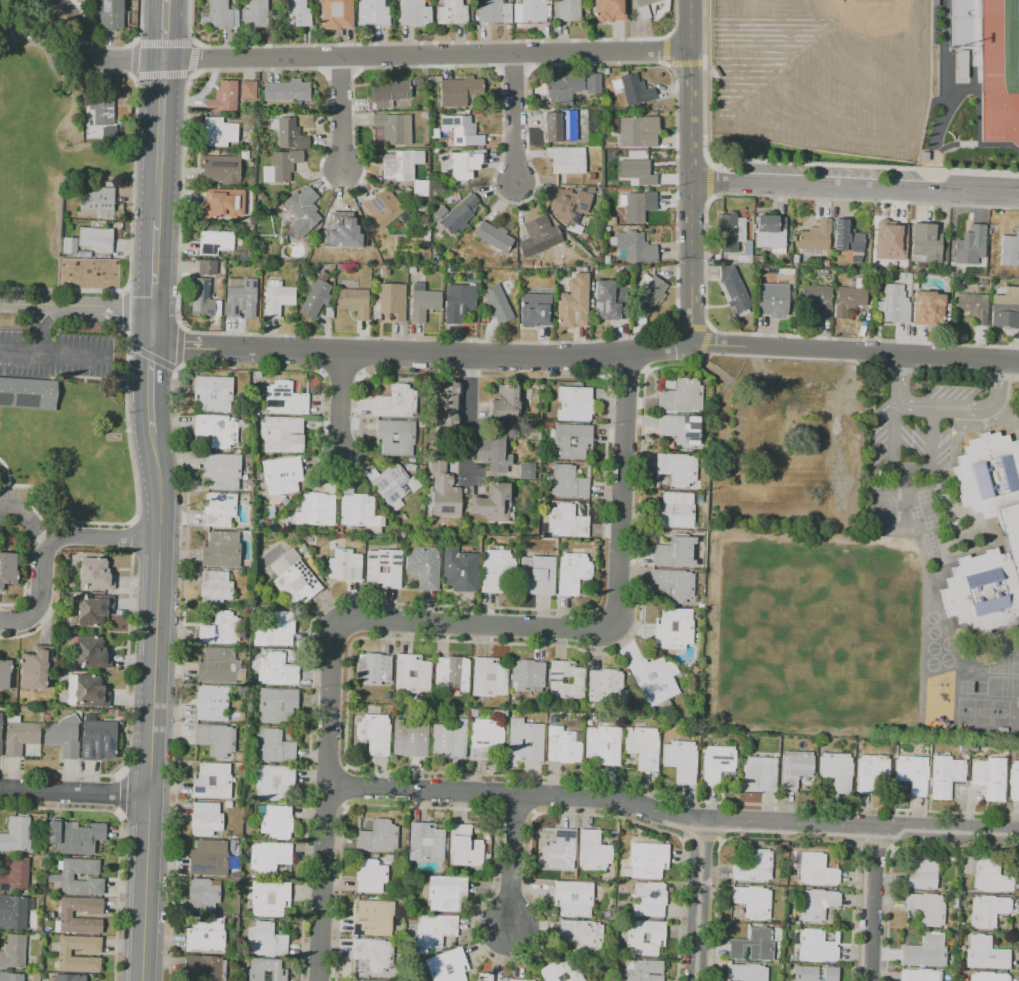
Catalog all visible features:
building: (82, 2)
building: (934, 2)
building: (647, 8)
building: (611, 10)
building: (569, 11)
building: (496, 12)
building: (535, 12)
building: (298, 13)
building: (375, 13)
building: (417, 13)
building: (454, 13)
building: (258, 14)
building: (338, 14)
building: (113, 15)
building: (222, 15)
road: (188, 21)
road: (139, 22)
building: (965, 23)
road: (81, 24)
park: (1018, 28)
road: (163, 30)
park: (1012, 41)
road: (194, 42)
road: (133, 44)
road: (163, 44)
road: (39, 45)
road: (109, 47)
road: (943, 51)
road: (389, 54)
road: (191, 58)
road: (133, 59)
traffic signals: (162, 61)
building: (962, 64)
park: (829, 70)
road: (106, 71)
road: (160, 74)
road: (191, 75)
road: (131, 76)
road: (996, 76)
track: (996, 76)
building: (594, 84)
building: (565, 90)
building: (636, 90)
road: (689, 90)
building: (250, 91)
building: (289, 92)
building: (391, 93)
building: (463, 93)
building: (225, 98)
building: (104, 109)
road: (341, 112)
road: (512, 116)
road: (979, 116)
building: (563, 127)
road: (939, 127)
building: (393, 128)
building: (463, 130)
building: (111, 132)
building: (641, 132)
building: (220, 134)
building: (292, 135)
road: (159, 141)
road: (975, 145)
building: (569, 161)
building: (287, 165)
building: (464, 165)
park: (21, 166)
building: (400, 166)
parking lot: (767, 169)
park: (50, 170)
building: (223, 171)
building: (639, 172)
parking lot: (846, 172)
parking lot: (901, 175)
road: (131, 183)
road: (853, 186)
building: (100, 201)
road: (180, 201)
building: (226, 204)
building: (572, 206)
building: (640, 206)
building: (305, 212)
building: (385, 212)
building: (462, 216)
building: (733, 233)
building: (773, 234)
building: (352, 235)
building: (496, 237)
building: (541, 237)
building: (98, 240)
building: (818, 240)
building: (850, 241)
building: (217, 243)
building: (895, 243)
building: (928, 244)
building: (72, 247)
building: (636, 248)
building: (973, 248)
building: (1010, 249)
building: (747, 253)
building: (759, 260)
road: (689, 262)
road: (704, 262)
road: (154, 264)
building: (209, 268)
building: (824, 273)
road: (61, 289)
road: (124, 290)
building: (736, 291)
building: (652, 294)
building: (775, 298)
building: (854, 298)
building: (202, 299)
building: (243, 300)
building: (318, 300)
building: (819, 300)
building: (280, 301)
building: (613, 302)
building: (357, 303)
building: (395, 303)
building: (460, 303)
building: (576, 303)
road: (24, 305)
road: (71, 305)
building: (499, 305)
building: (896, 305)
road: (123, 306)
building: (426, 306)
building: (976, 307)
building: (930, 309)
building: (1006, 309)
building: (538, 310)
road: (125, 311)
road: (153, 323)
road: (37, 326)
road: (126, 337)
traffic signals: (153, 339)
road: (179, 346)
road: (18, 350)
road: (854, 351)
parking lot: (56, 353)
road: (71, 353)
road: (149, 356)
road: (420, 356)
road: (175, 368)
road: (150, 386)
building: (215, 394)
building: (29, 395)
building: (684, 396)
building: (288, 400)
road: (340, 401)
building: (399, 402)
building: (579, 404)
building: (451, 406)
building: (507, 406)
road: (968, 408)
road: (468, 416)
building: (780, 418)
building: (682, 430)
building: (218, 431)
parking lot: (916, 431)
building: (285, 434)
building: (397, 437)
building: (573, 441)
building: (498, 453)
road: (892, 461)
building: (679, 469)
building: (223, 472)
building: (528, 472)
building: (284, 476)
building: (570, 483)
building: (392, 484)
building: (446, 493)
building: (494, 504)
building: (319, 509)
building: (677, 509)
building: (840, 509)
building: (221, 510)
building: (361, 512)
road: (28, 519)
building: (569, 522)
building: (1011, 533)
road: (52, 540)
building: (223, 551)
building: (677, 551)
building: (346, 567)
building: (426, 568)
building: (386, 569)
building: (9, 570)
building: (462, 571)
building: (497, 571)
building: (575, 574)
building: (97, 576)
building: (540, 576)
building: (296, 580)
building: (675, 585)
building: (217, 589)
building: (96, 610)
road: (157, 614)
park: (777, 619)
road: (430, 624)
building: (677, 628)
building: (222, 630)
building: (277, 630)
road: (416, 639)
building: (94, 654)
building: (219, 666)
building: (37, 669)
building: (376, 669)
building: (279, 671)
building: (5, 675)
building: (454, 675)
building: (414, 676)
building: (529, 677)
building: (491, 679)
building: (568, 681)
building: (658, 681)
building: (608, 687)
building: (93, 693)
building: (213, 703)
building: (280, 707)
park: (974, 712)
park: (1001, 713)
building: (1, 735)
building: (377, 735)
building: (413, 738)
building: (23, 739)
building: (487, 739)
building: (65, 740)
building: (217, 740)
building: (101, 741)
building: (451, 741)
building: (527, 741)
building: (566, 746)
building: (605, 746)
building: (276, 748)
building: (645, 748)
building: (683, 762)
building: (719, 764)
building: (797, 769)
building: (839, 771)
building: (764, 773)
building: (873, 773)
building: (915, 774)
building: (947, 777)
building: (992, 778)
building: (1013, 780)
building: (214, 783)
building: (276, 784)
road: (75, 792)
road: (671, 815)
building: (208, 820)
building: (277, 823)
building: (17, 837)
building: (77, 838)
building: (380, 838)
building: (428, 844)
building: (467, 848)
building: (563, 850)
building: (595, 852)
building: (271, 858)
building: (211, 860)
road: (510, 862)
building: (649, 862)
building: (756, 868)
building: (819, 871)
building: (924, 874)
building: (17, 877)
building: (373, 877)
building: (992, 877)
building: (69, 878)
road: (145, 888)
building: (448, 894)
building: (205, 897)
building: (273, 899)
building: (575, 899)
building: (651, 900)
road: (696, 900)
building: (754, 902)
road: (872, 903)
building: (819, 905)
building: (929, 909)
building: (990, 912)
building: (14, 913)
building: (67, 917)
building: (375, 918)
building: (436, 932)
building: (584, 936)
building: (207, 937)
building: (658, 939)
building: (268, 941)
building: (755, 945)
building: (820, 947)
building: (928, 951)
building: (14, 953)
building: (65, 955)
building: (375, 955)
building: (988, 955)
building: (450, 967)
building: (206, 969)
building: (268, 971)
building: (564, 971)
building: (644, 971)
building: (748, 973)
building: (818, 974)
building: (922, 976)
building: (12, 977)
building: (483, 977)
building: (490, 977)
building: (991, 977)
building: (71, 978)
building: (363, 980)
building: (522, 980)

